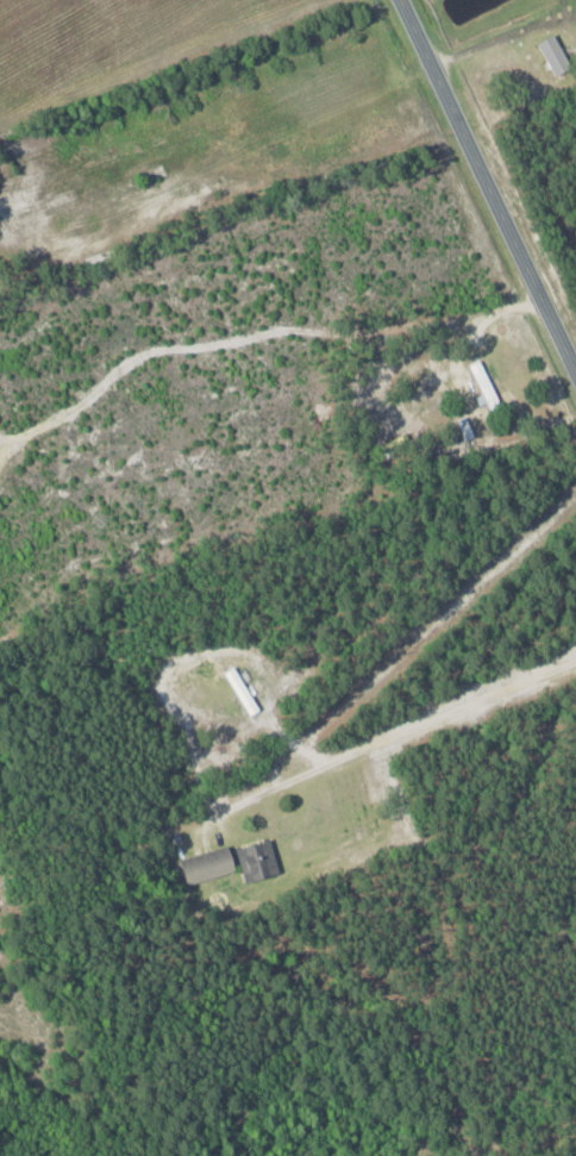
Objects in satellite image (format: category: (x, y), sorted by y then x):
building: (555, 54)
road: (488, 183)
building: (484, 383)
building: (257, 861)
building: (208, 864)

